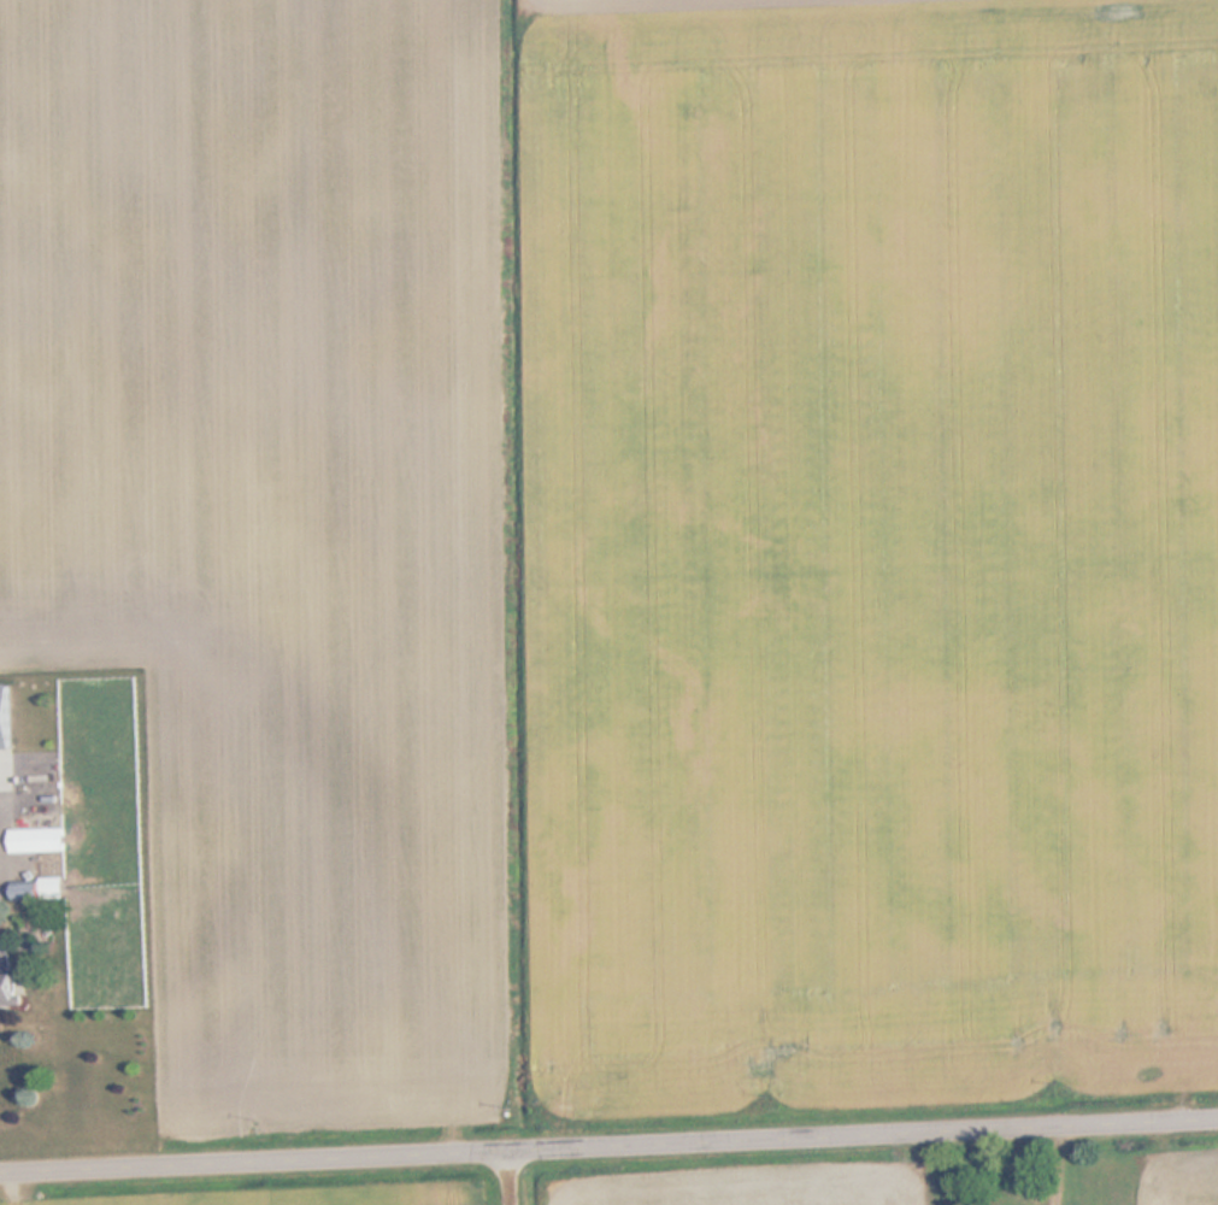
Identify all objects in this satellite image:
building: (8, 734)
building: (41, 840)
building: (31, 889)
building: (12, 989)
road: (608, 1142)
road: (516, 1176)

